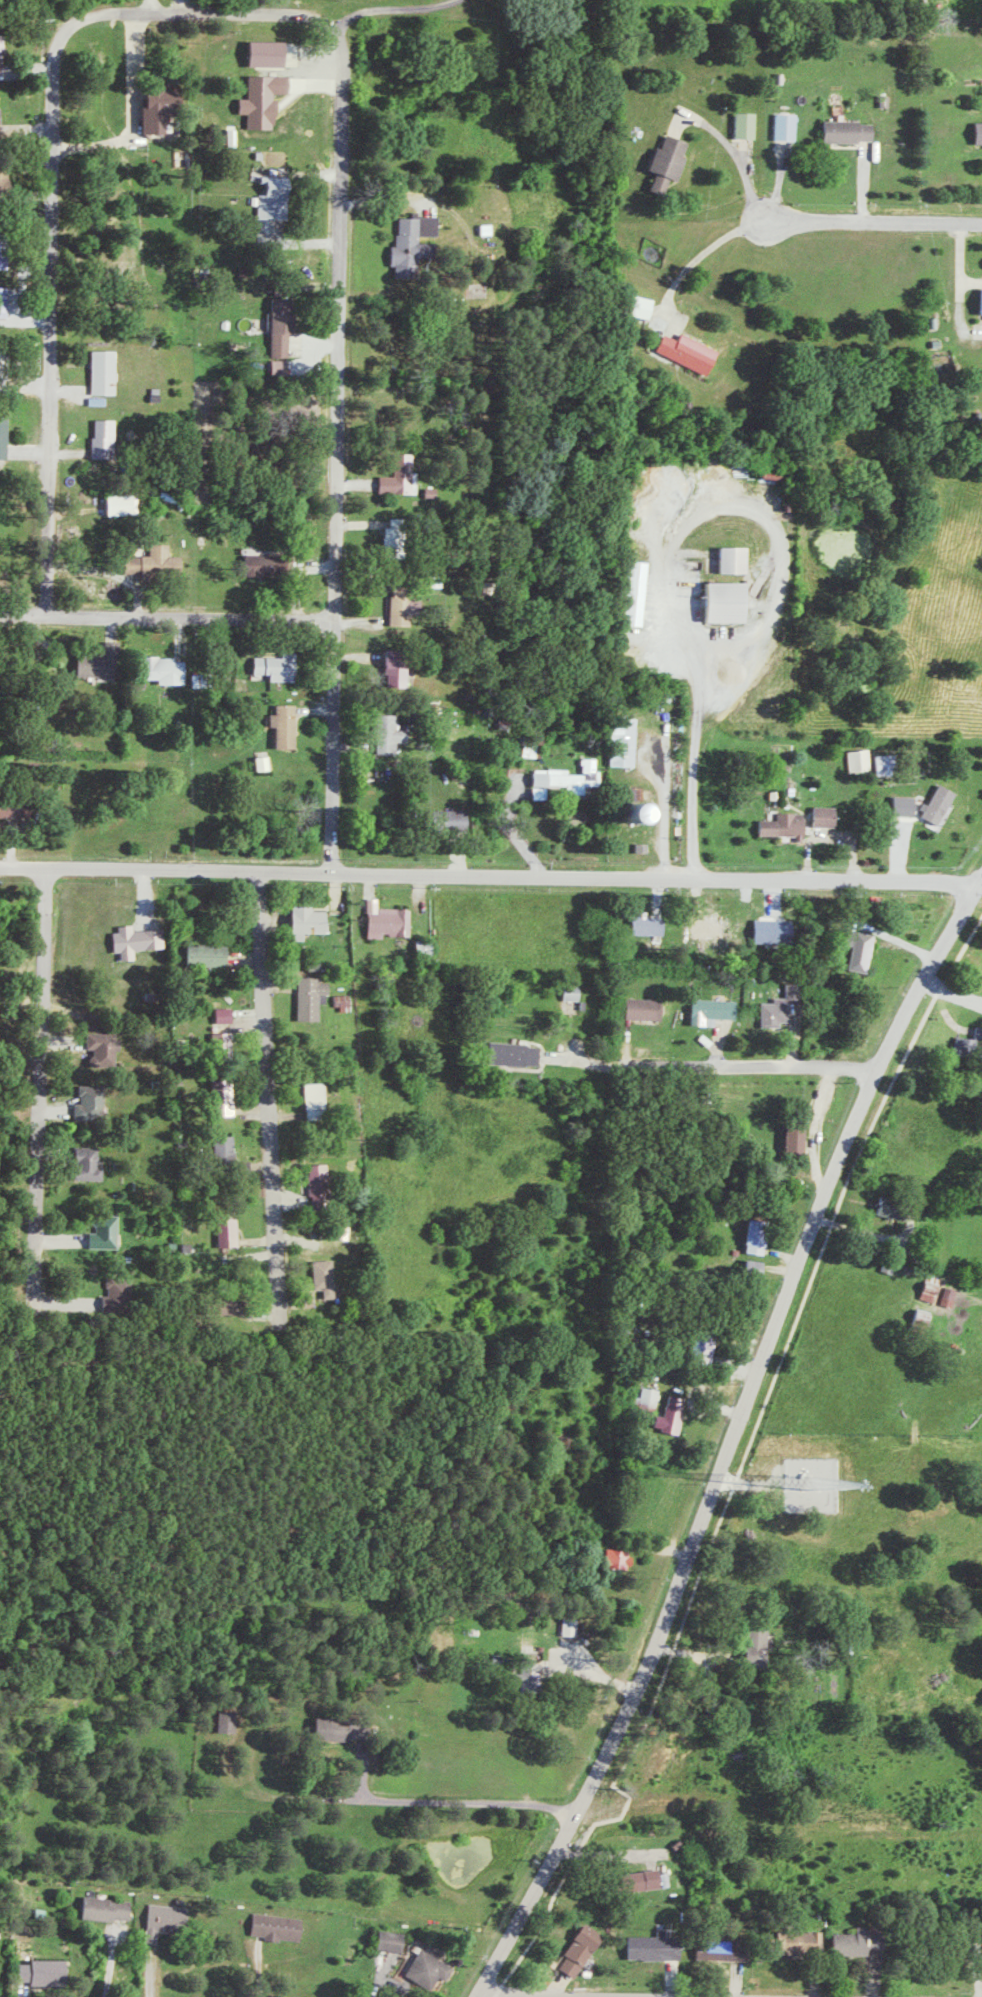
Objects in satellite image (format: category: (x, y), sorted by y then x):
road: (154, 7)
road: (394, 9)
building: (2, 52)
building: (268, 53)
building: (265, 99)
building: (156, 109)
building: (0, 114)
road: (129, 114)
building: (749, 124)
building: (790, 126)
building: (852, 131)
building: (980, 132)
building: (672, 160)
building: (3, 171)
road: (49, 177)
building: (275, 198)
road: (797, 219)
building: (489, 228)
building: (415, 243)
road: (697, 252)
road: (961, 252)
building: (5, 254)
building: (5, 301)
building: (642, 306)
building: (284, 334)
building: (691, 351)
building: (107, 372)
building: (5, 436)
building: (106, 438)
road: (335, 447)
building: (403, 475)
road: (675, 523)
building: (396, 540)
building: (735, 559)
building: (156, 560)
building: (262, 565)
building: (637, 593)
building: (728, 601)
road: (165, 612)
building: (102, 662)
building: (282, 667)
building: (399, 667)
building: (167, 670)
building: (288, 725)
building: (394, 733)
building: (627, 742)
building: (864, 760)
building: (267, 763)
building: (887, 764)
road: (691, 777)
building: (568, 779)
building: (943, 804)
building: (908, 805)
building: (17, 808)
road: (662, 808)
building: (633, 813)
building: (828, 816)
building: (453, 819)
building: (788, 826)
road: (511, 837)
building: (647, 848)
road: (489, 876)
building: (391, 920)
building: (310, 922)
building: (651, 925)
building: (777, 931)
building: (140, 941)
building: (429, 948)
building: (865, 950)
building: (212, 955)
building: (577, 992)
building: (314, 998)
building: (347, 1002)
building: (644, 1009)
building: (717, 1011)
building: (779, 1012)
building: (228, 1015)
building: (228, 1041)
building: (970, 1042)
building: (106, 1044)
building: (518, 1054)
road: (687, 1063)
road: (37, 1082)
road: (270, 1095)
building: (318, 1101)
building: (94, 1103)
building: (231, 1106)
road: (814, 1123)
building: (798, 1139)
building: (228, 1147)
building: (91, 1164)
building: (322, 1180)
building: (892, 1207)
building: (231, 1231)
building: (109, 1233)
building: (759, 1237)
building: (757, 1268)
building: (328, 1278)
building: (938, 1288)
building: (954, 1297)
building: (228, 1307)
building: (926, 1318)
building: (708, 1341)
building: (653, 1395)
building: (676, 1414)
road: (730, 1438)
building: (622, 1558)
building: (575, 1626)
building: (761, 1646)
building: (535, 1676)
building: (231, 1721)
building: (338, 1728)
road: (395, 1801)
building: (646, 1880)
building: (109, 1908)
building: (171, 1919)
building: (281, 1927)
building: (394, 1940)
building: (804, 1941)
building: (859, 1941)
building: (660, 1946)
building: (585, 1949)
building: (730, 1949)
building: (432, 1968)
building: (44, 1971)
road: (550, 1995)

